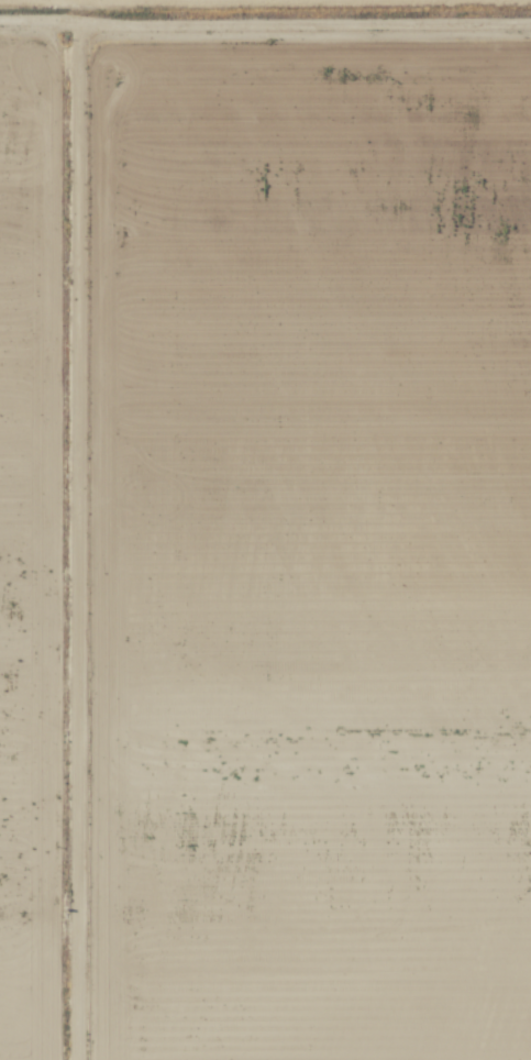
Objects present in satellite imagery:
crop: (265, 535)

